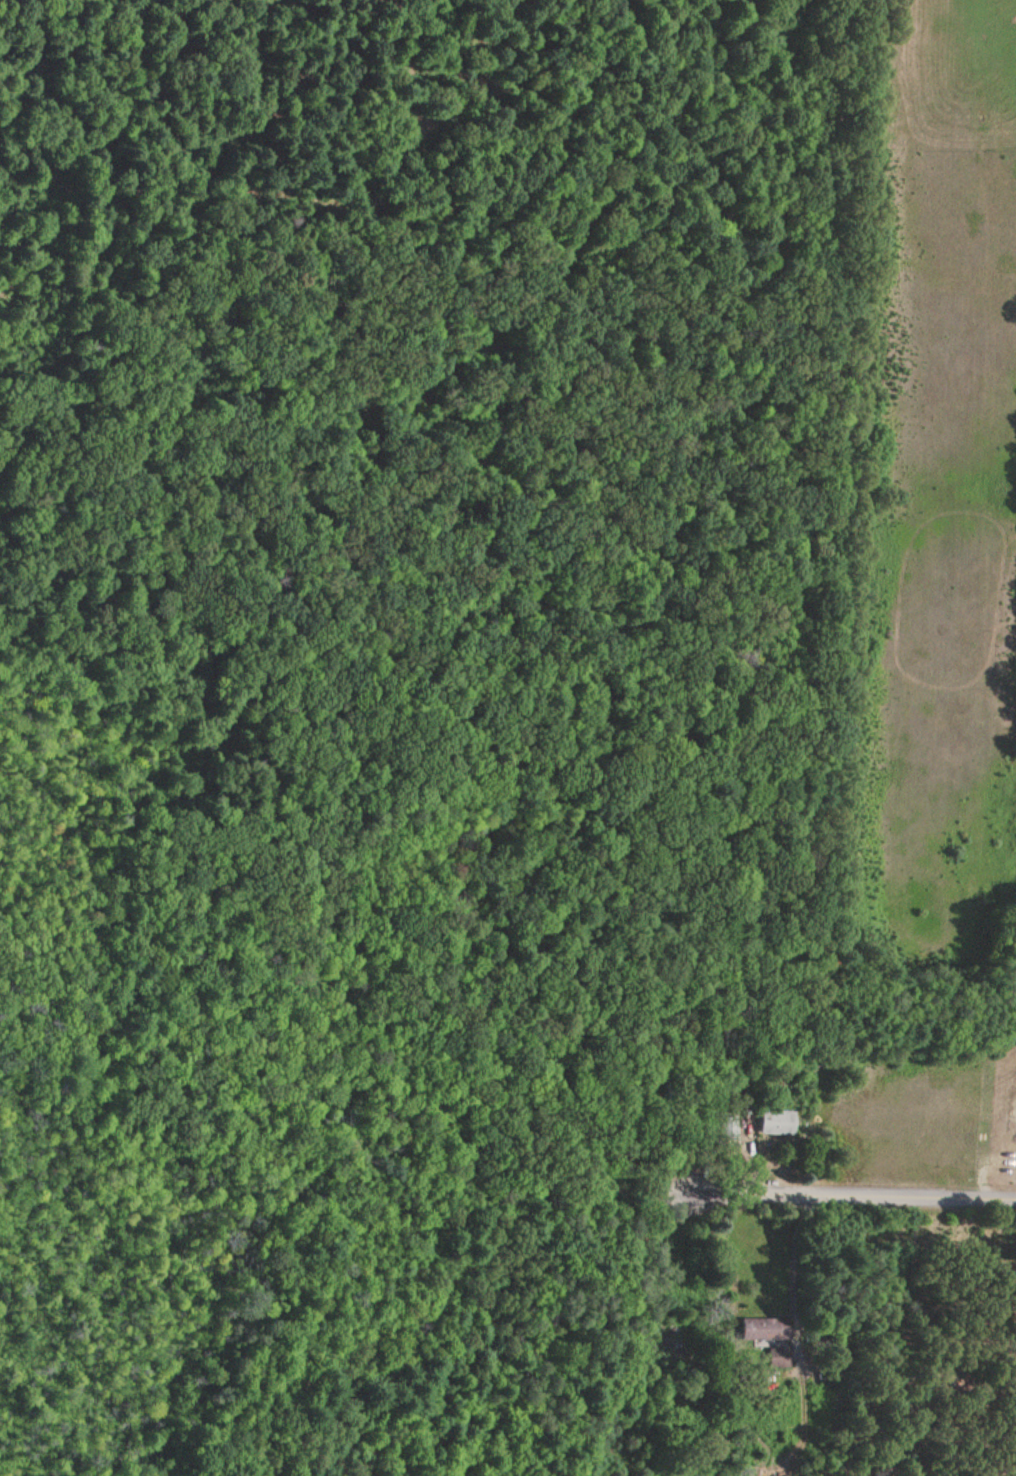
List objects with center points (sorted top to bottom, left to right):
building: (776, 1124)
building: (723, 1132)
road: (849, 1192)
road: (794, 1256)
building: (765, 1331)
building: (780, 1359)

